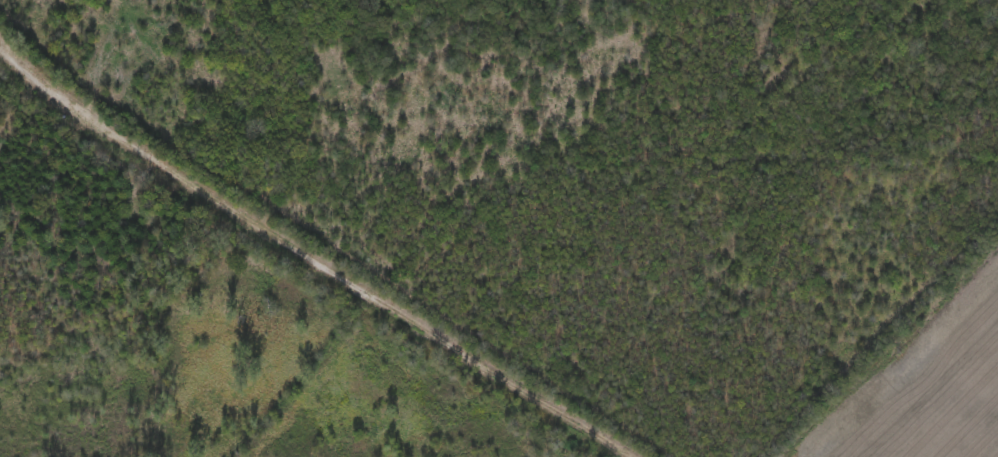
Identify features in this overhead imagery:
road: (120, 136)
road: (438, 336)
crop: (926, 384)

